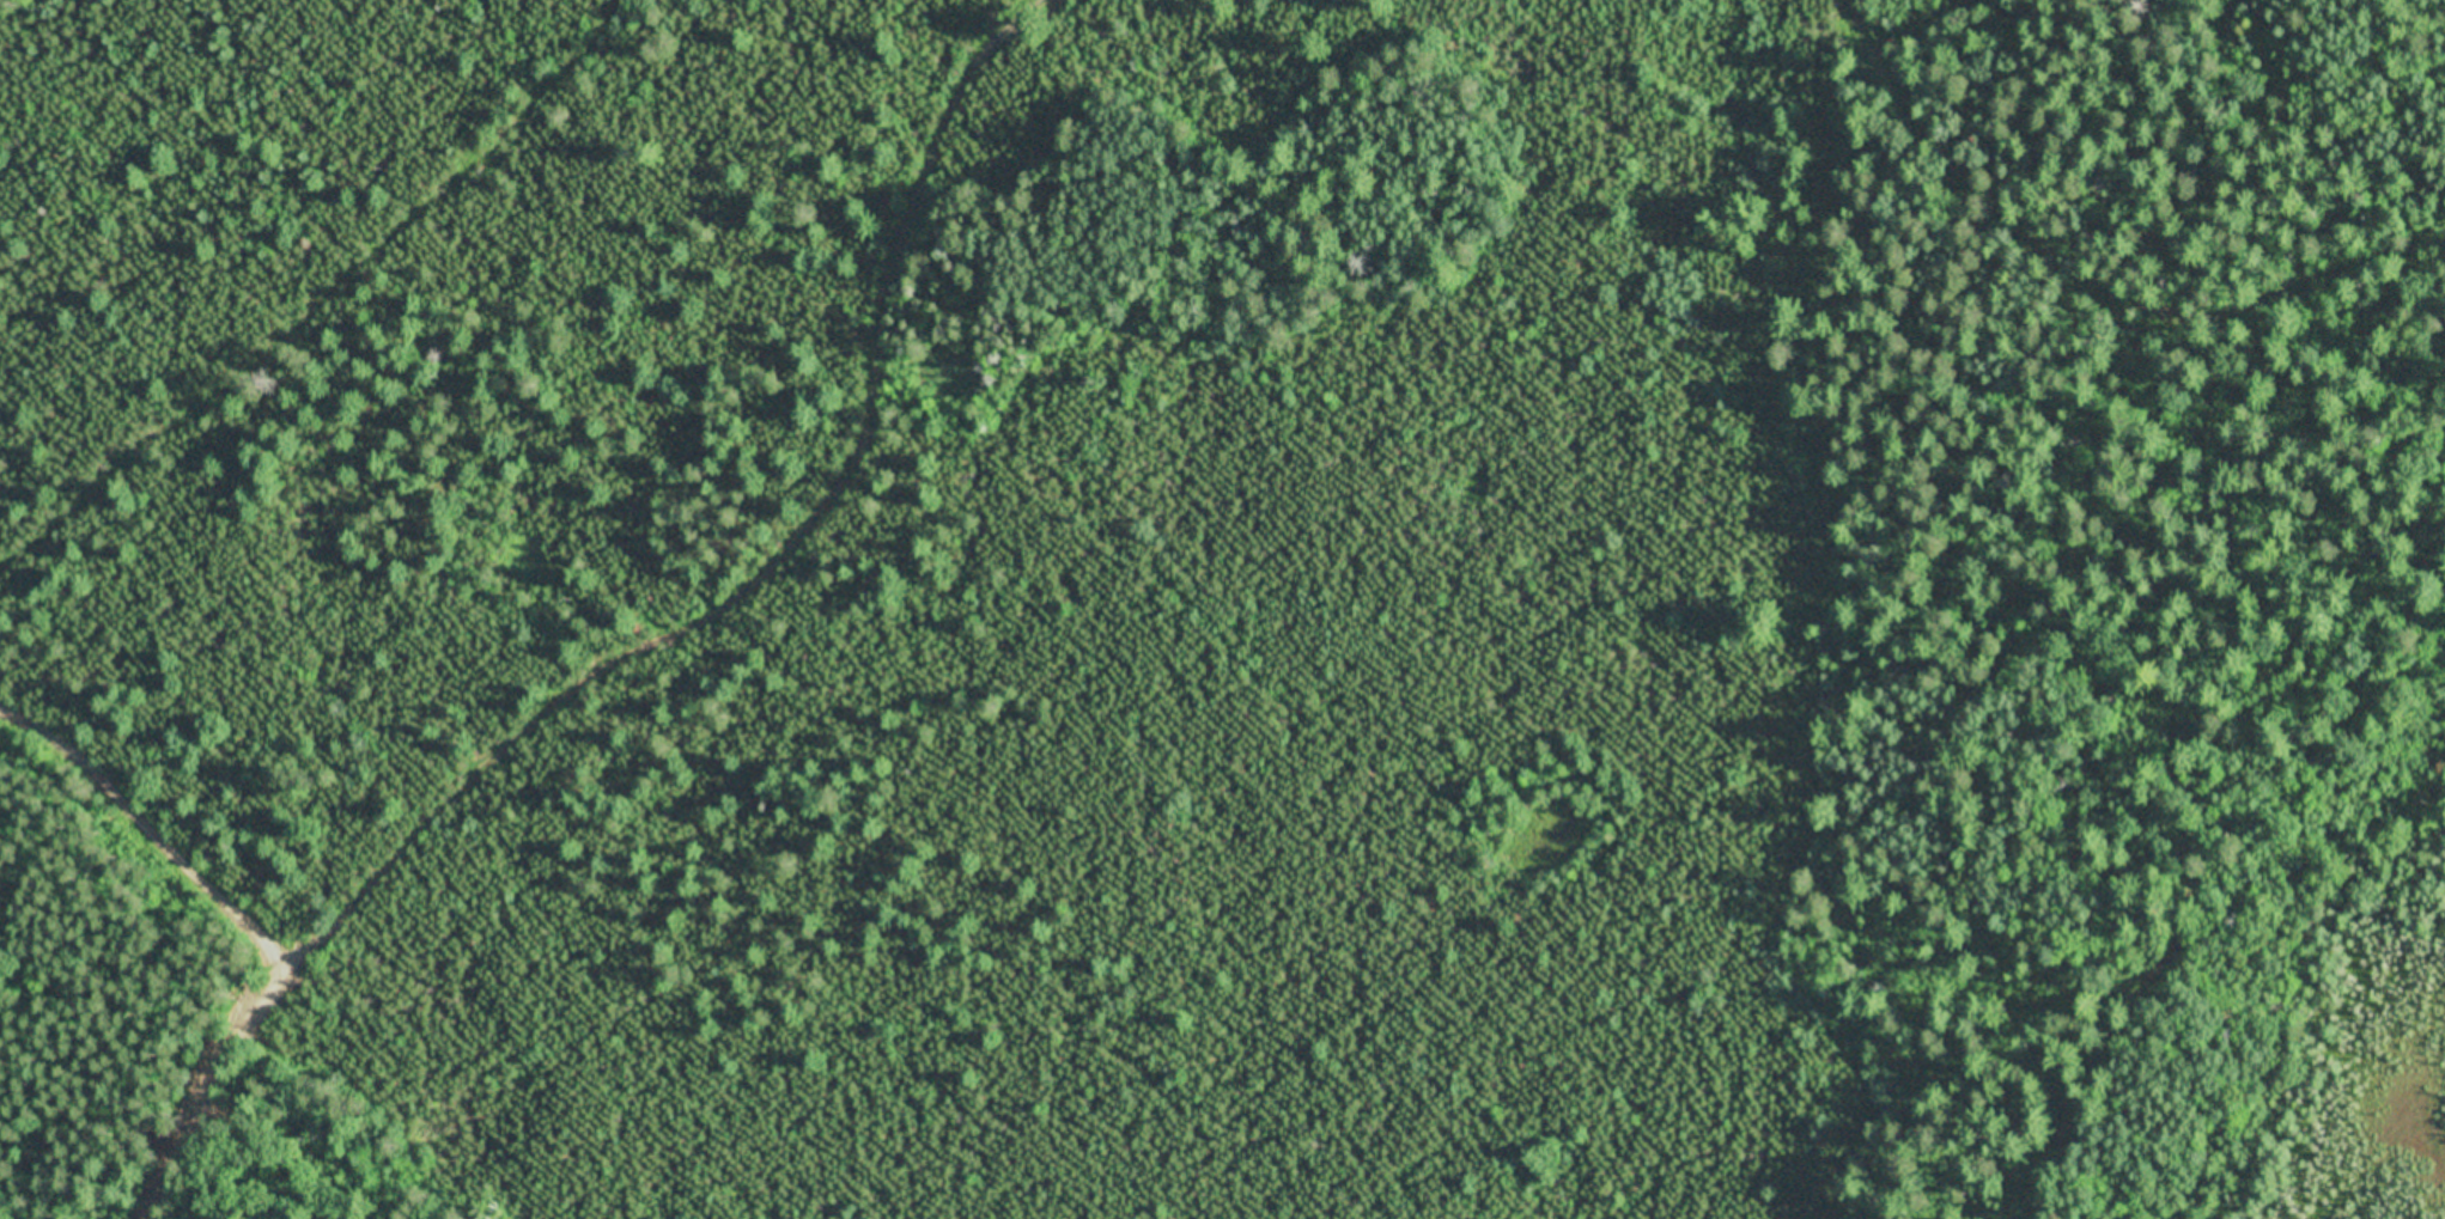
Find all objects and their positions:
road: (583, 633)
road: (110, 849)

